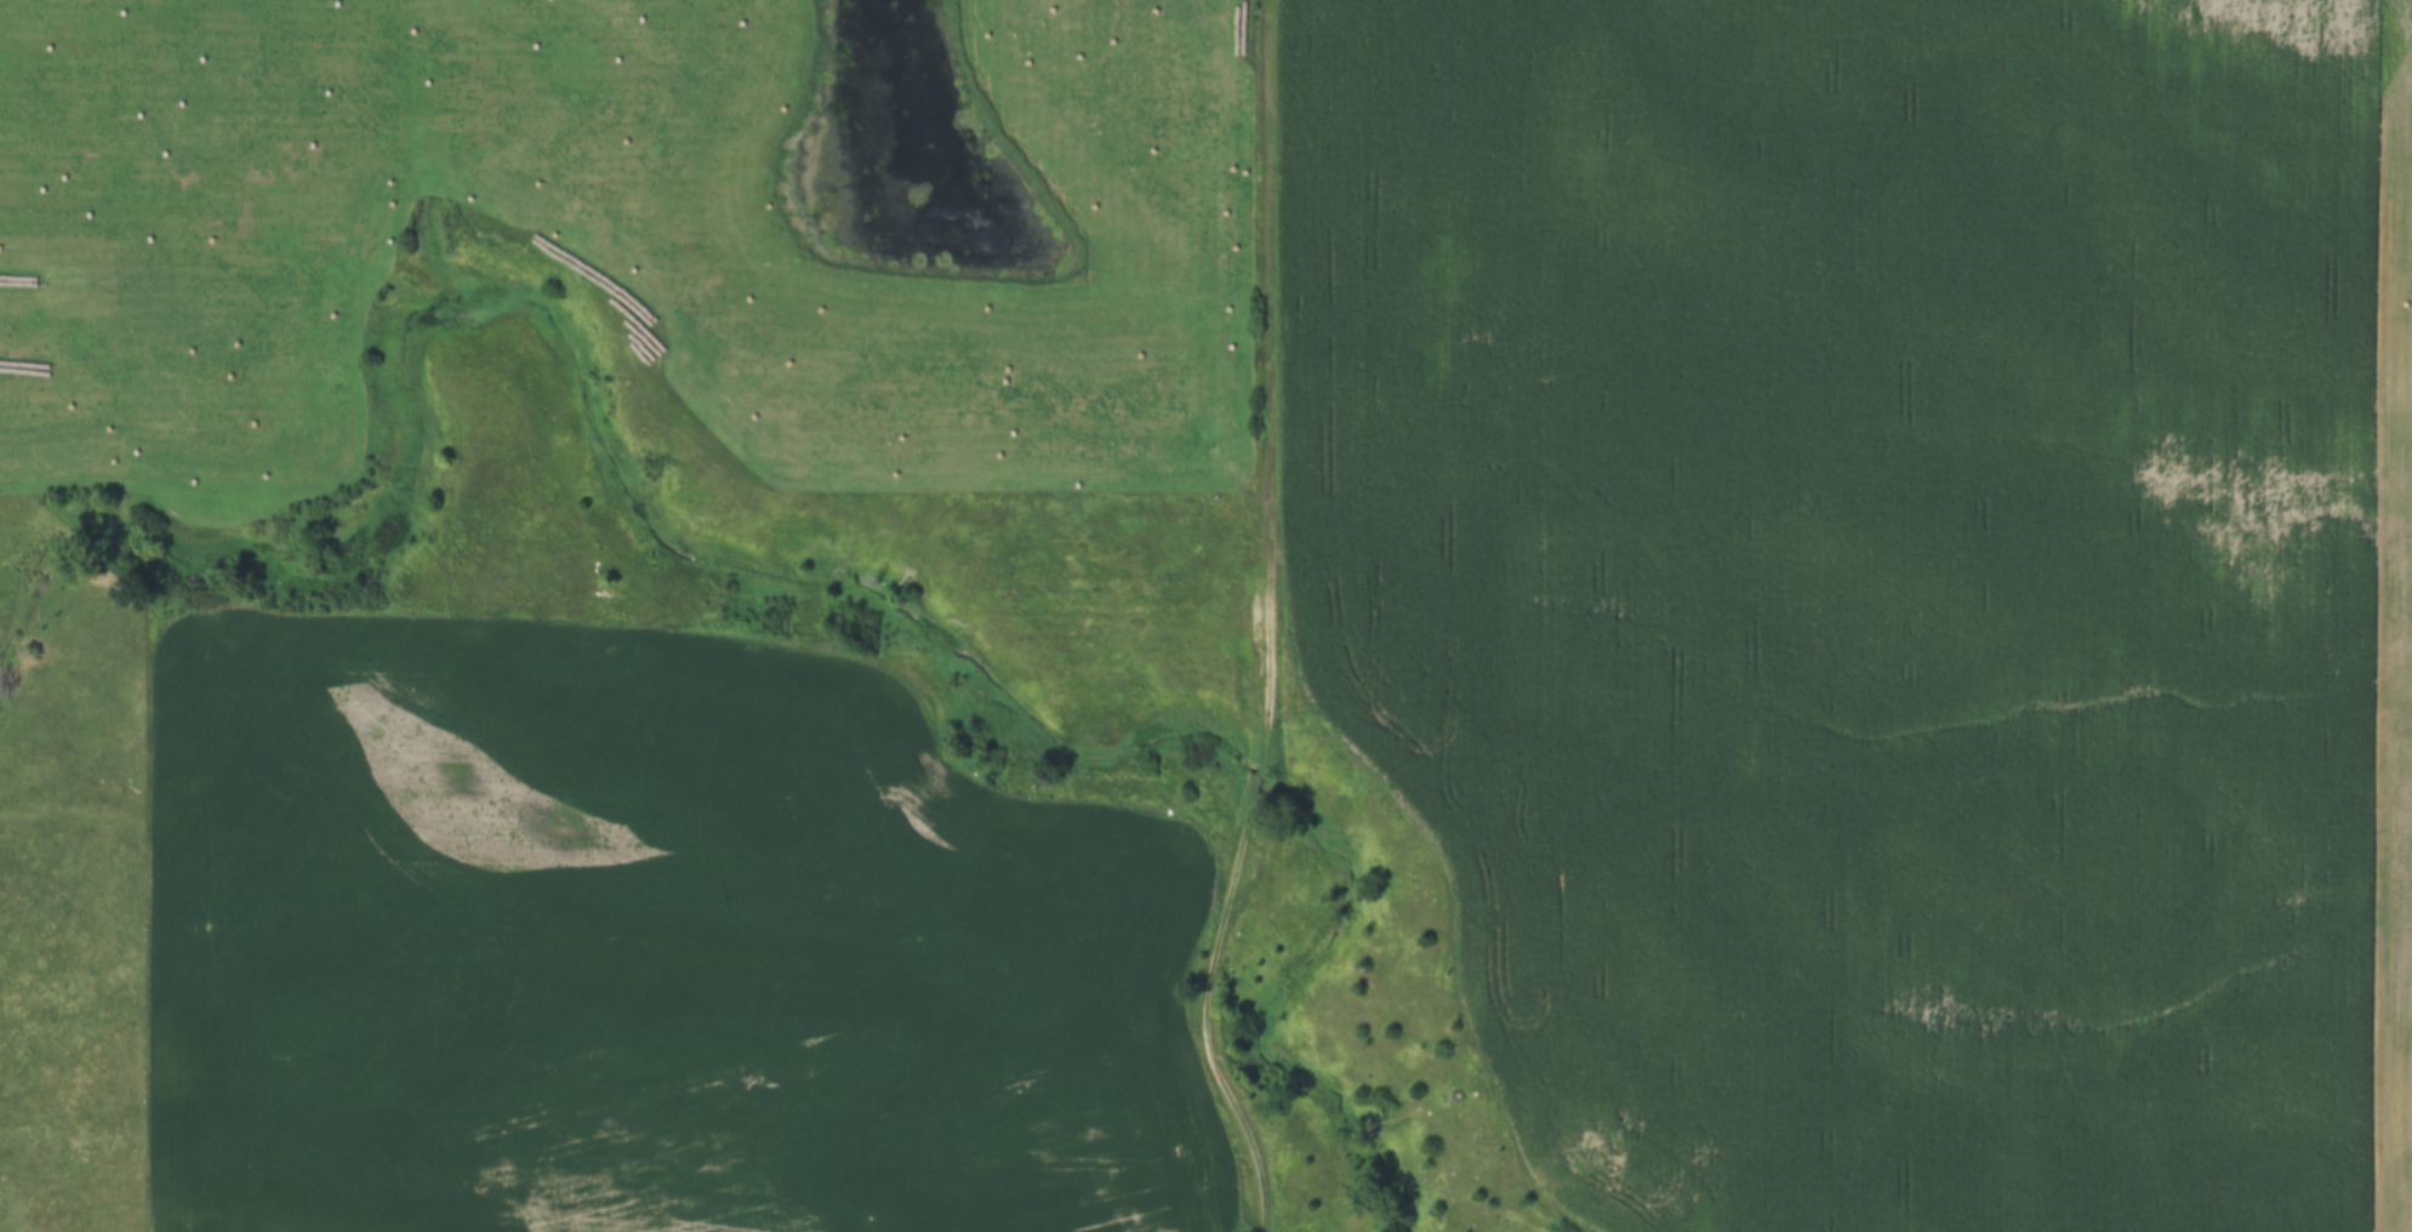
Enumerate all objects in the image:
road: (1268, 623)

